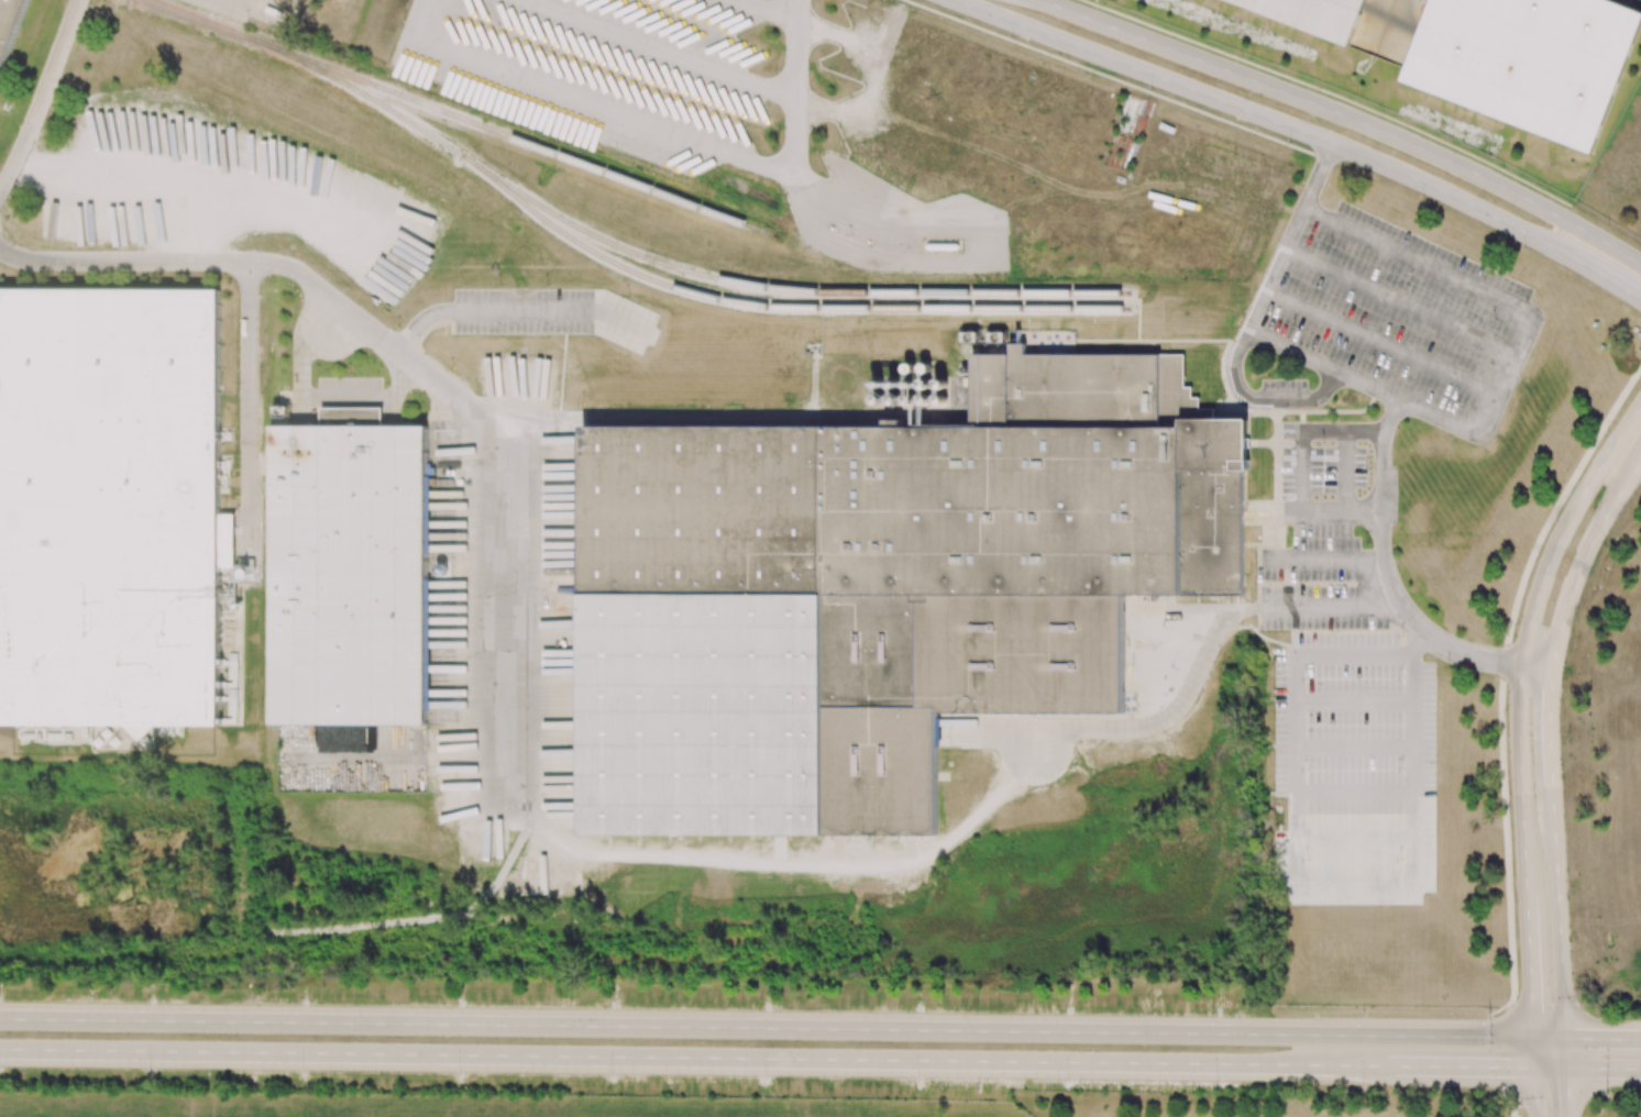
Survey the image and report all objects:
street lamp: (1103, 4)
road: (251, 11)
building: (1308, 15)
building: (9, 25)
street lamp: (1012, 36)
street lamp: (1242, 57)
building: (1522, 62)
road: (795, 79)
street lamp: (1152, 89)
road: (42, 97)
street lamp: (1384, 111)
road: (1347, 115)
road: (1264, 117)
railway: (463, 119)
parking lot: (868, 124)
street lamp: (1290, 142)
street lamp: (1504, 166)
street lamp: (1422, 200)
street lamp: (1608, 226)
railway: (596, 235)
street lamp: (1523, 250)
road: (184, 262)
road: (1603, 276)
railway: (709, 298)
road: (1399, 301)
street lamp: (1640, 318)
road: (1252, 319)
parking lot: (1384, 320)
road: (1380, 341)
road: (1506, 375)
road: (315, 397)
road: (247, 401)
road: (681, 414)
street lamp: (1614, 422)
road: (1300, 471)
road: (1344, 472)
building: (109, 506)
parking lot: (1335, 533)
street lamp: (1603, 546)
road: (1585, 556)
road: (1324, 560)
building: (349, 573)
road: (1390, 586)
building: (880, 588)
road: (1528, 630)
street lamp: (1513, 637)
road: (1417, 642)
road: (1208, 648)
road: (1504, 670)
building: (228, 690)
road: (1353, 698)
parking lot: (1352, 723)
road: (1551, 732)
road: (1353, 744)
road: (1297, 790)
road: (520, 814)
road: (1560, 920)
road: (1529, 961)
street lamp: (150, 1000)
street lamp: (302, 1002)
street lamp: (1581, 1003)
street lamp: (461, 1004)
street lamp: (613, 1005)
street lamp: (767, 1007)
street lamp: (918, 1008)
traffic signals: (1531, 1009)
street lamp: (1068, 1010)
street lamp: (1488, 1011)
street lamp: (1218, 1013)
street lamp: (1364, 1013)
road: (767, 1028)
road: (1549, 1038)
traffic signals: (1585, 1039)
road: (1603, 1039)
road: (1512, 1050)
road: (1534, 1053)
road: (1566, 1053)
road: (654, 1057)
road: (1346, 1065)
road: (1458, 1068)
traffic signals: (1501, 1069)
road: (1551, 1069)
road: (1604, 1069)
street lamp: (148, 1071)
street lamp: (302, 1073)
street lamp: (459, 1075)
street lamp: (612, 1075)
street lamp: (766, 1077)
street lamp: (917, 1080)
street lamp: (1067, 1082)
street lamp: (1216, 1083)
street lamp: (1363, 1085)
traffic signals: (1567, 1086)
street lamp: (1607, 1092)
road: (1537, 1093)
road: (1567, 1093)
street lamp: (1509, 1097)
road: (1515, 1106)

